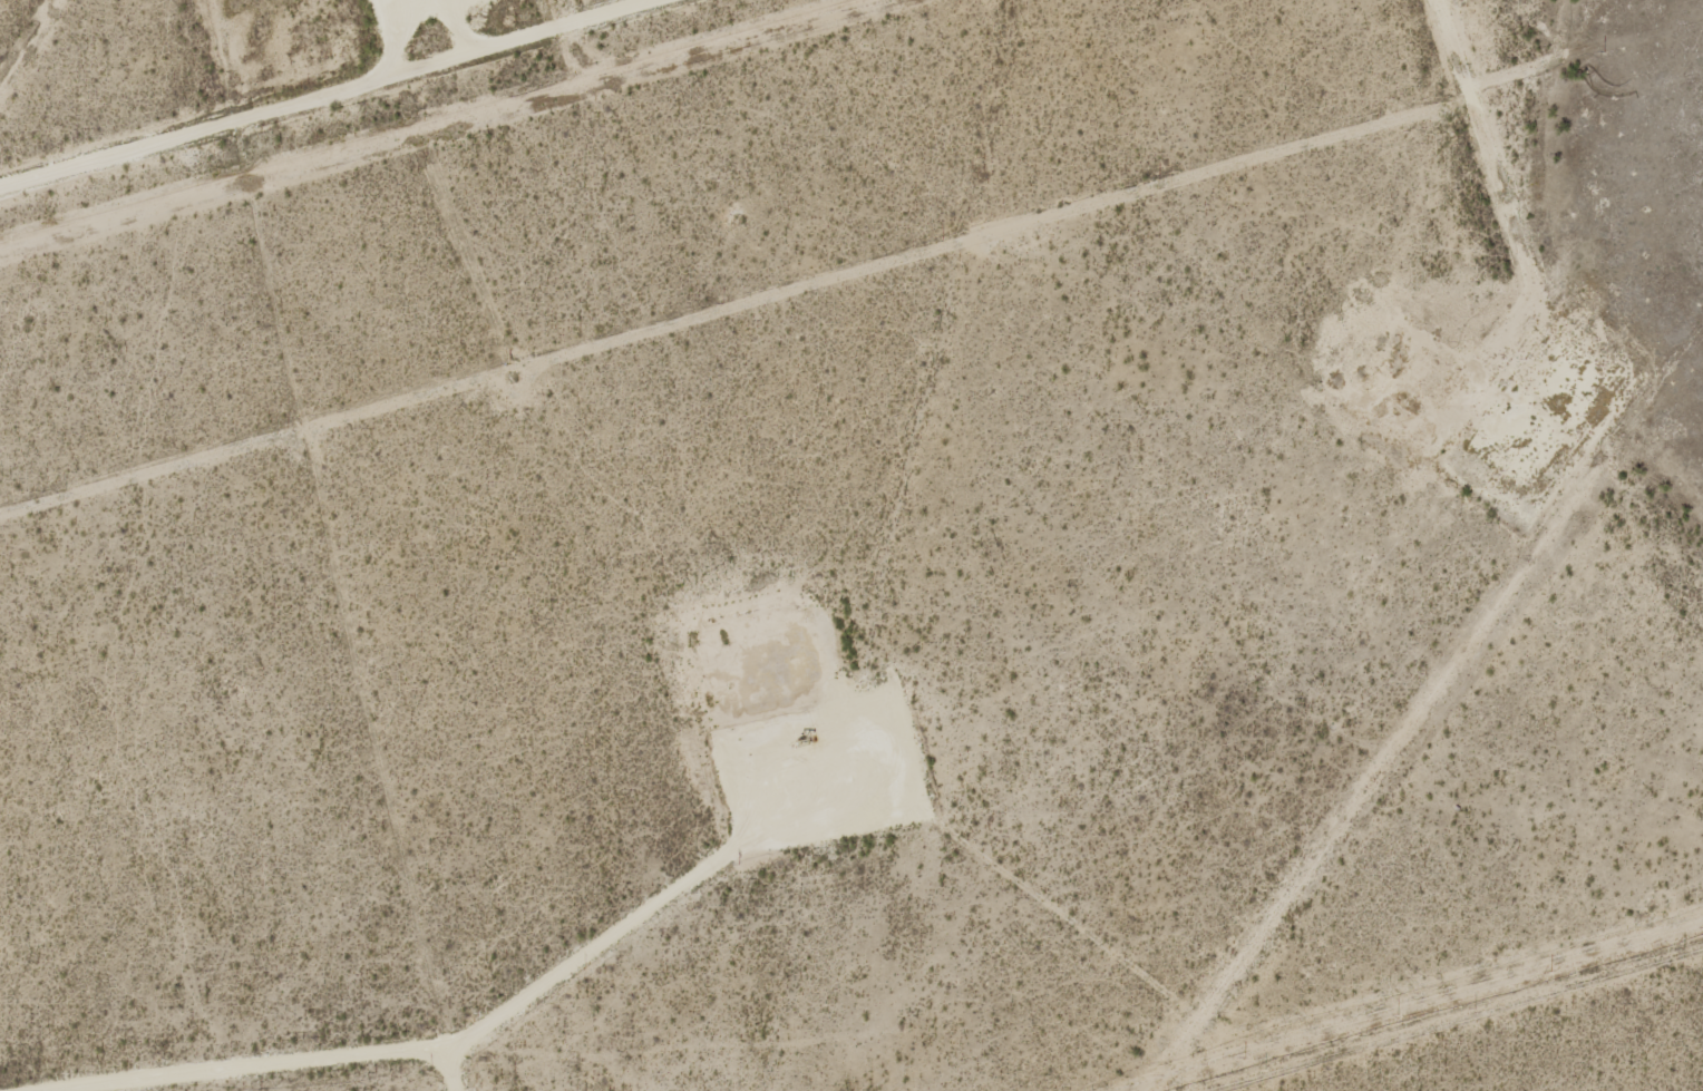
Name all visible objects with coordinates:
petroleum well: (808, 751)

